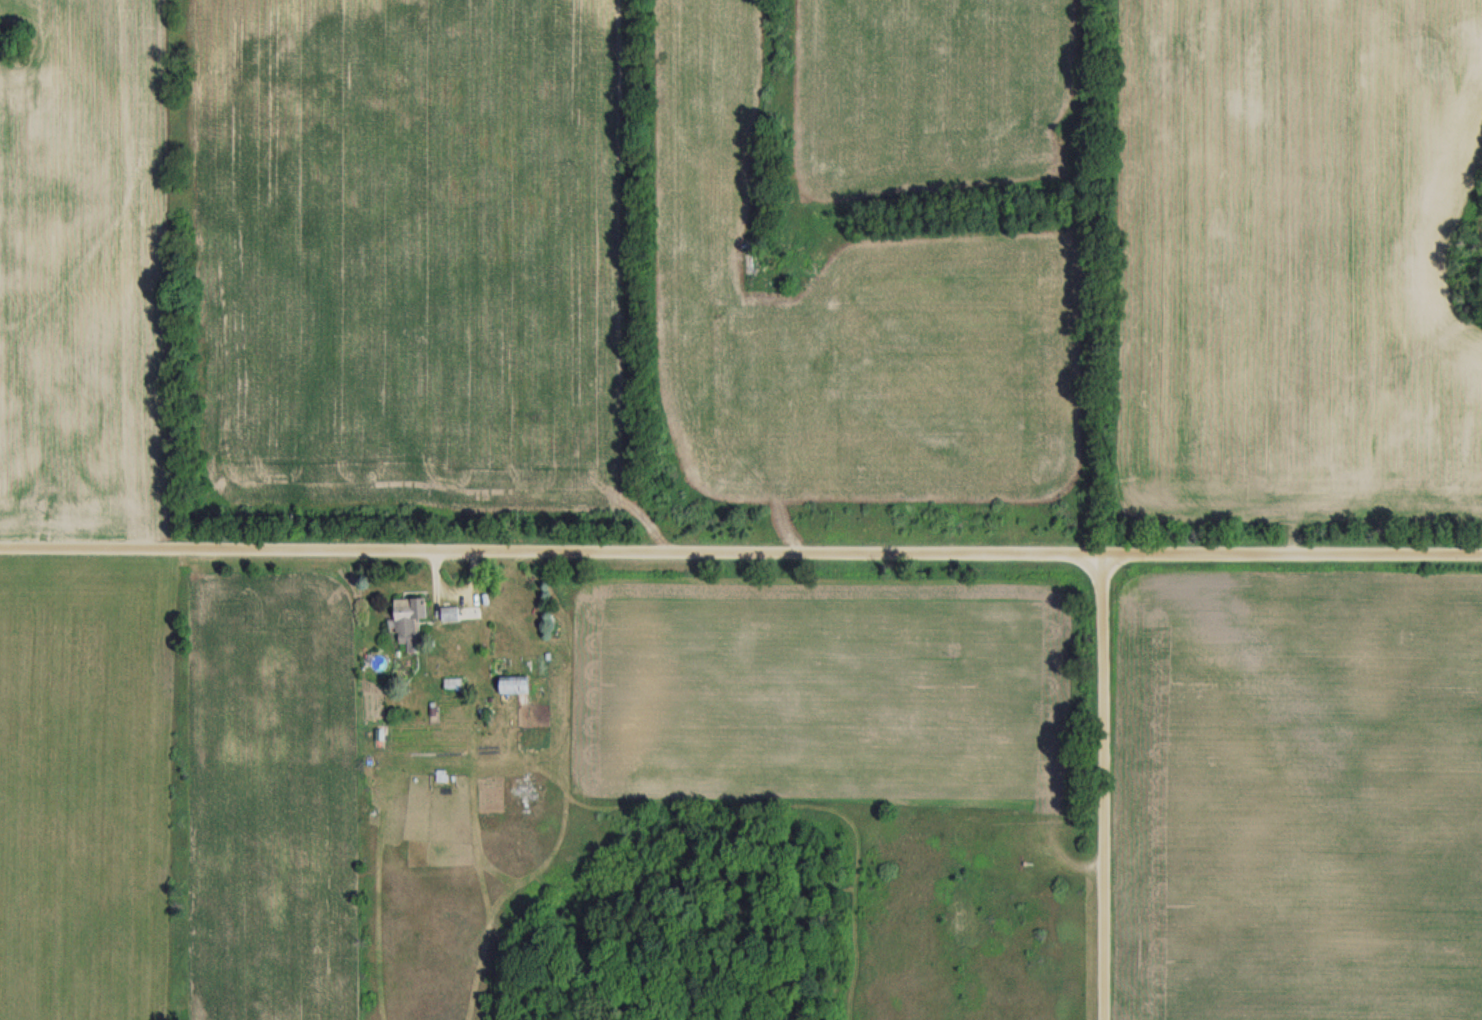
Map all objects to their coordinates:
road: (741, 550)
building: (451, 614)
building: (410, 621)
building: (517, 684)
road: (1104, 786)

